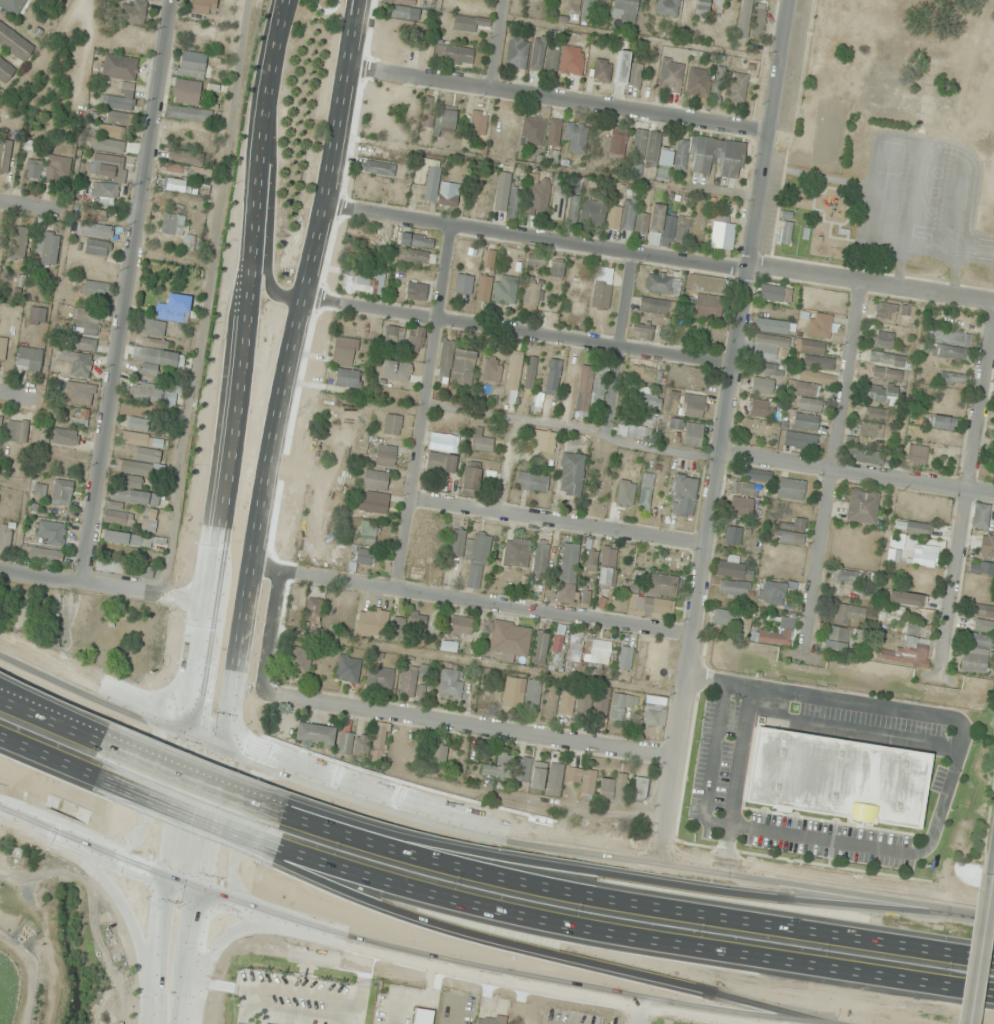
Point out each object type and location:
building: (401, 2)
building: (12, 6)
building: (204, 7)
building: (668, 7)
building: (710, 7)
building: (625, 9)
railway: (241, 11)
building: (134, 12)
building: (411, 15)
building: (752, 21)
building: (469, 23)
building: (14, 42)
road: (499, 44)
building: (518, 52)
building: (454, 54)
building: (544, 57)
building: (573, 60)
building: (192, 64)
building: (120, 67)
building: (602, 70)
building: (628, 70)
building: (5, 71)
building: (671, 75)
building: (699, 85)
building: (737, 88)
building: (187, 92)
building: (120, 99)
road: (559, 100)
building: (189, 114)
building: (428, 114)
building: (118, 118)
building: (448, 119)
building: (479, 124)
building: (555, 127)
building: (533, 131)
road: (771, 134)
building: (108, 137)
building: (576, 138)
building: (615, 141)
building: (378, 152)
building: (651, 152)
building: (5, 155)
building: (681, 155)
building: (718, 157)
building: (187, 163)
building: (106, 166)
building: (379, 168)
building: (58, 170)
building: (34, 172)
building: (430, 181)
building: (105, 190)
building: (502, 192)
building: (450, 195)
building: (538, 197)
road: (24, 206)
building: (558, 206)
building: (573, 209)
building: (593, 212)
building: (627, 219)
building: (173, 224)
building: (666, 225)
building: (786, 228)
building: (96, 230)
building: (723, 234)
building: (417, 240)
road: (537, 240)
building: (19, 244)
building: (48, 248)
building: (97, 248)
building: (416, 257)
building: (536, 262)
building: (557, 269)
building: (362, 283)
building: (663, 284)
building: (705, 284)
road: (872, 284)
building: (464, 285)
building: (96, 289)
building: (603, 289)
road: (128, 291)
building: (417, 291)
building: (498, 291)
building: (775, 293)
building: (532, 296)
building: (656, 306)
building: (708, 307)
building: (895, 313)
building: (169, 314)
building: (37, 316)
building: (87, 322)
building: (772, 325)
building: (820, 325)
road: (517, 331)
building: (642, 331)
building: (394, 335)
building: (885, 338)
building: (416, 339)
building: (85, 344)
road: (619, 344)
building: (769, 344)
building: (951, 344)
building: (3, 347)
building: (812, 347)
building: (345, 351)
building: (154, 355)
building: (883, 360)
building: (27, 361)
building: (78, 362)
building: (818, 362)
road: (736, 363)
building: (457, 364)
building: (766, 368)
building: (492, 369)
building: (396, 371)
building: (530, 373)
building: (554, 374)
building: (645, 374)
building: (886, 375)
building: (514, 376)
building: (348, 378)
building: (953, 379)
building: (600, 385)
building: (762, 385)
building: (585, 388)
building: (811, 389)
building: (153, 393)
building: (882, 395)
road: (15, 397)
building: (80, 399)
building: (646, 399)
building: (694, 407)
road: (424, 408)
building: (759, 408)
building: (876, 414)
building: (0, 421)
building: (806, 422)
building: (138, 423)
building: (943, 423)
building: (750, 424)
building: (392, 425)
road: (574, 427)
building: (871, 430)
building: (17, 431)
building: (634, 432)
building: (693, 435)
building: (65, 437)
building: (481, 441)
building: (800, 441)
building: (444, 442)
building: (544, 442)
road: (266, 443)
road: (223, 445)
building: (141, 454)
building: (386, 455)
building: (915, 455)
building: (865, 456)
road: (832, 458)
building: (441, 462)
road: (857, 473)
building: (572, 475)
building: (756, 475)
building: (992, 475)
building: (375, 479)
building: (471, 481)
building: (132, 482)
building: (533, 482)
road: (967, 483)
building: (627, 489)
building: (745, 489)
building: (791, 489)
building: (646, 491)
building: (62, 492)
building: (684, 495)
building: (135, 498)
building: (374, 503)
building: (741, 506)
building: (863, 507)
building: (119, 518)
building: (980, 518)
road: (559, 523)
building: (918, 530)
building: (993, 530)
building: (793, 531)
building: (52, 533)
building: (368, 533)
building: (5, 534)
building: (732, 535)
building: (135, 541)
building: (470, 547)
building: (518, 553)
building: (43, 554)
building: (925, 556)
building: (365, 557)
building: (540, 557)
building: (591, 560)
building: (608, 566)
building: (730, 568)
building: (126, 569)
building: (981, 569)
building: (568, 573)
building: (844, 576)
road: (101, 584)
building: (661, 584)
building: (734, 587)
building: (920, 587)
building: (772, 593)
road: (471, 601)
building: (653, 607)
building: (314, 609)
building: (982, 611)
building: (720, 618)
building: (415, 622)
building: (371, 623)
building: (461, 627)
park: (97, 630)
building: (773, 635)
building: (509, 639)
building: (837, 639)
building: (907, 641)
building: (448, 647)
building: (540, 647)
building: (976, 647)
building: (598, 652)
road: (690, 657)
building: (626, 659)
building: (299, 662)
building: (348, 669)
building: (379, 679)
building: (451, 683)
building: (410, 684)
building: (524, 694)
road: (29, 697)
building: (567, 702)
building: (584, 704)
building: (621, 706)
road: (53, 709)
building: (655, 711)
road: (404, 714)
building: (315, 733)
building: (379, 740)
building: (345, 743)
building: (361, 746)
road: (51, 752)
building: (438, 754)
building: (500, 767)
building: (530, 772)
road: (196, 773)
building: (836, 778)
building: (555, 779)
building: (588, 783)
building: (641, 789)
building: (614, 790)
road: (187, 806)
road: (181, 812)
road: (485, 819)
road: (993, 868)
road: (628, 876)
road: (635, 906)
road: (122, 910)
road: (218, 937)
road: (628, 937)
road: (542, 948)
road: (980, 949)
road: (385, 950)
road: (179, 956)
wastewater plant: (8, 989)
road: (637, 1013)
building: (423, 1016)
building: (490, 1020)

